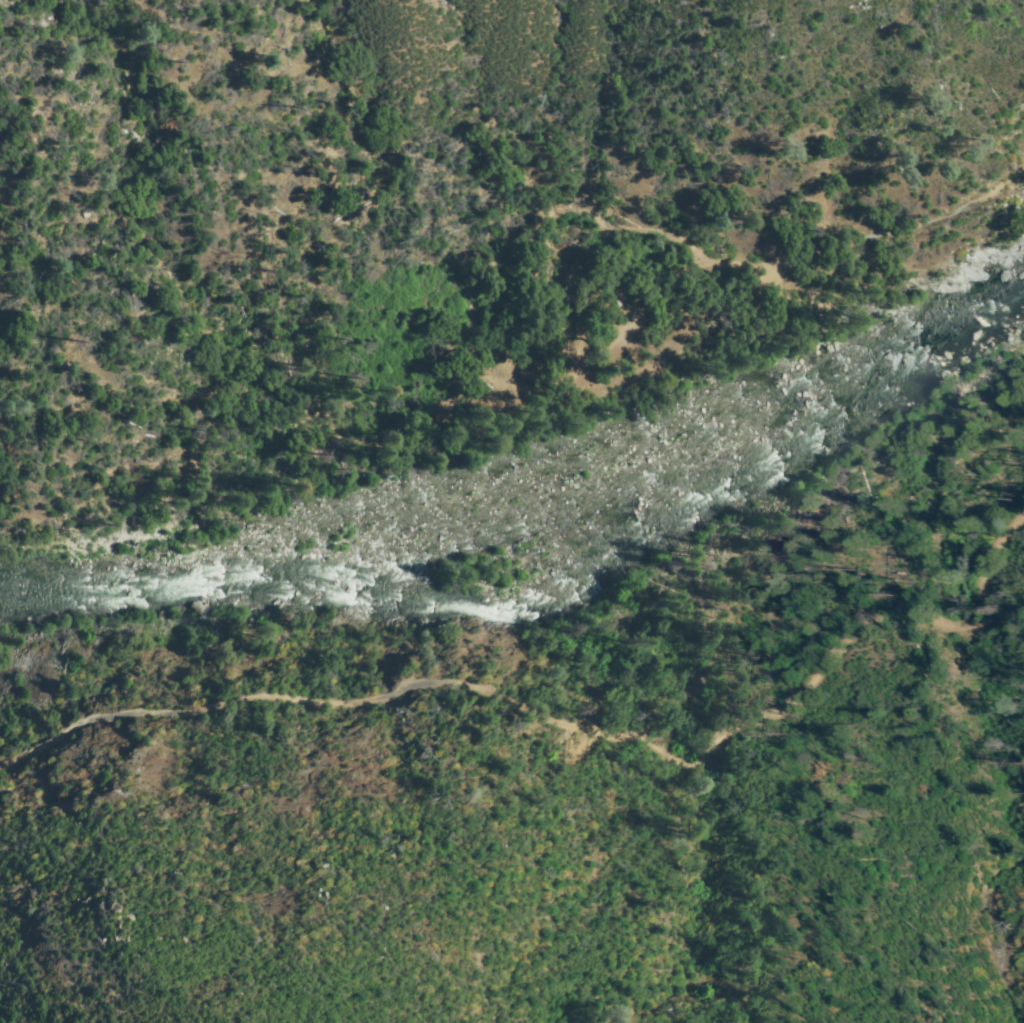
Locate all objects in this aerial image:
road: (902, 230)
river: (551, 561)
road: (556, 716)

